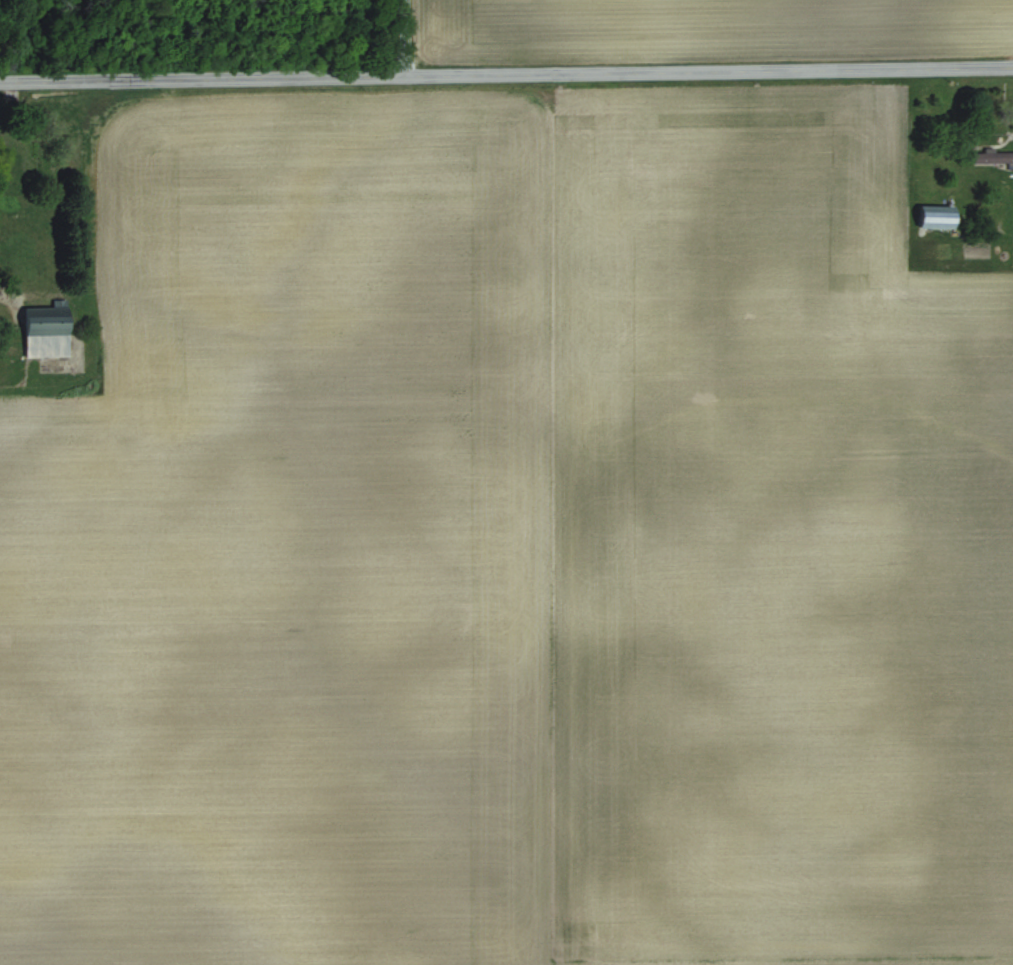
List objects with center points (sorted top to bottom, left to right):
road: (506, 74)
building: (996, 156)
building: (52, 331)

